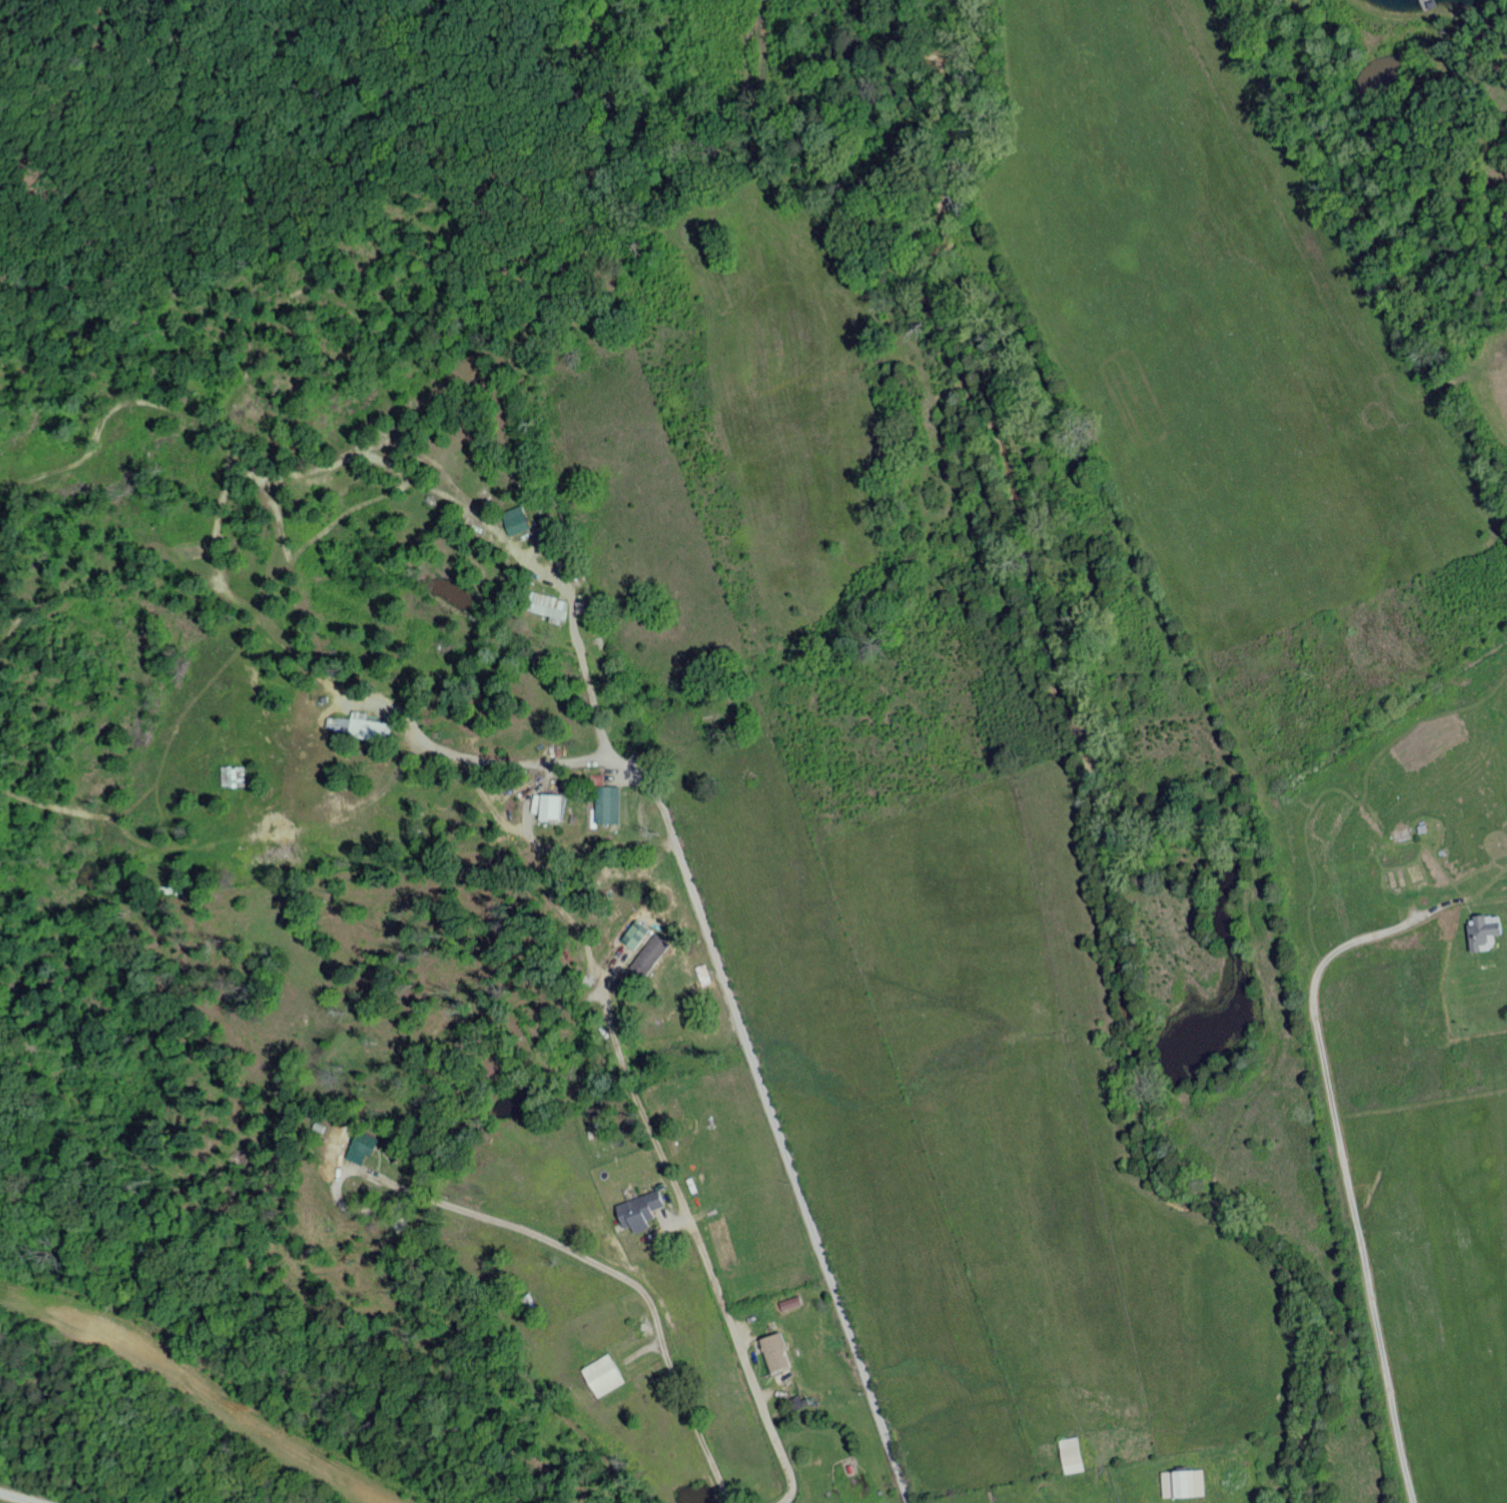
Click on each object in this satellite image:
road: (1432, 13)
building: (514, 520)
building: (546, 607)
road: (570, 623)
building: (359, 726)
building: (605, 802)
building: (549, 807)
building: (1483, 932)
building: (634, 935)
building: (651, 953)
building: (702, 975)
road: (739, 1021)
road: (1339, 1143)
building: (360, 1147)
road: (665, 1164)
road: (334, 1189)
building: (641, 1210)
road: (638, 1285)
building: (789, 1302)
building: (774, 1351)
building: (602, 1375)
building: (1071, 1455)
building: (1183, 1483)
road: (21, 1497)

